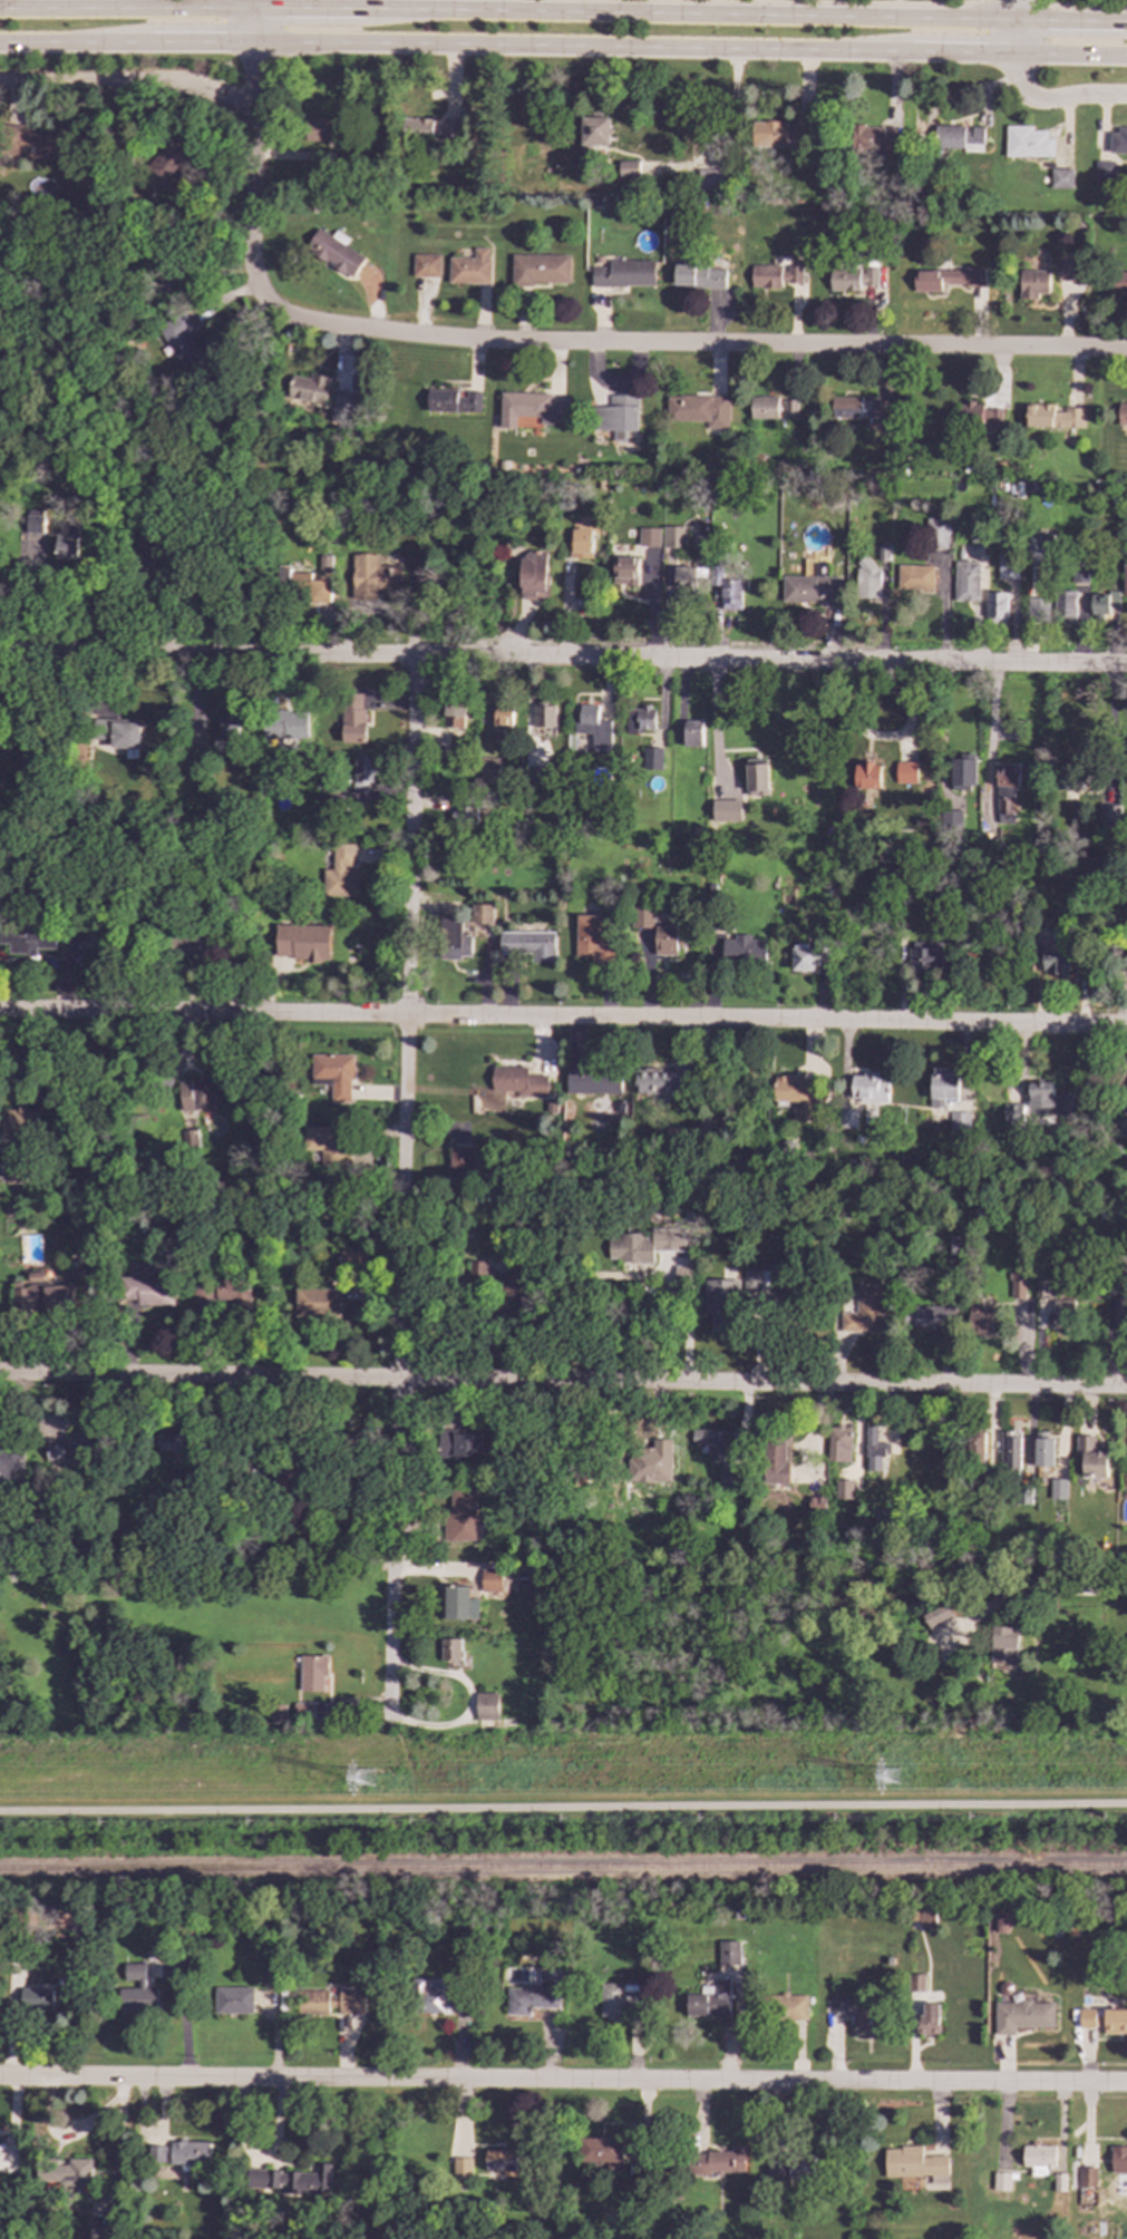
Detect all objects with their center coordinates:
road: (778, 0)
road: (823, 1)
road: (253, 4)
road: (1065, 6)
road: (126, 8)
road: (304, 9)
road: (1016, 10)
road: (686, 13)
road: (1124, 19)
road: (1068, 20)
road: (252, 26)
road: (1014, 37)
road: (74, 42)
road: (200, 43)
road: (579, 49)
road: (961, 53)
road: (1070, 55)
road: (126, 81)
road: (1055, 100)
road: (730, 126)
building: (320, 129)
building: (594, 130)
building: (430, 133)
building: (776, 134)
building: (959, 137)
building: (873, 140)
building: (1028, 142)
building: (1118, 142)
building: (29, 143)
building: (164, 165)
building: (628, 168)
building: (1104, 171)
building: (1060, 178)
building: (707, 179)
road: (251, 181)
building: (334, 251)
building: (426, 265)
building: (470, 267)
building: (540, 269)
building: (1065, 271)
building: (164, 272)
building: (624, 273)
building: (774, 275)
building: (699, 276)
building: (852, 279)
building: (948, 279)
building: (1116, 281)
building: (1033, 283)
building: (181, 333)
road: (698, 345)
building: (308, 390)
building: (453, 401)
building: (764, 407)
building: (846, 407)
building: (342, 408)
building: (533, 408)
building: (877, 408)
building: (699, 409)
building: (789, 409)
building: (1121, 412)
building: (981, 415)
building: (619, 416)
building: (1053, 416)
building: (937, 534)
building: (31, 536)
building: (673, 536)
building: (977, 536)
building: (649, 537)
building: (66, 539)
building: (581, 543)
building: (1038, 549)
building: (146, 555)
building: (324, 564)
building: (1007, 566)
building: (625, 571)
building: (1080, 573)
building: (534, 575)
building: (372, 576)
building: (914, 576)
building: (1125, 577)
building: (867, 580)
building: (965, 581)
building: (709, 583)
building: (320, 591)
building: (810, 591)
building: (1102, 603)
building: (995, 606)
building: (1065, 606)
building: (1037, 609)
road: (563, 656)
building: (453, 717)
building: (544, 717)
building: (352, 718)
building: (639, 719)
building: (503, 723)
building: (283, 730)
building: (230, 731)
building: (591, 731)
building: (692, 731)
road: (937, 731)
road: (990, 734)
building: (126, 738)
road: (882, 739)
building: (1, 740)
building: (651, 758)
building: (363, 769)
building: (488, 772)
building: (905, 772)
building: (962, 773)
building: (866, 776)
building: (755, 780)
building: (1004, 795)
building: (725, 810)
building: (1107, 816)
building: (465, 817)
building: (340, 873)
building: (480, 914)
building: (641, 916)
building: (28, 936)
building: (454, 938)
building: (592, 941)
building: (664, 941)
building: (302, 942)
building: (528, 944)
building: (193, 946)
building: (742, 950)
building: (924, 955)
building: (1050, 957)
building: (1123, 957)
building: (803, 958)
road: (563, 1018)
building: (332, 1074)
building: (593, 1080)
building: (517, 1081)
building: (660, 1081)
building: (943, 1087)
building: (867, 1088)
building: (196, 1094)
building: (796, 1094)
building: (1038, 1104)
building: (161, 1107)
building: (19, 1121)
building: (959, 1121)
building: (1119, 1128)
building: (327, 1143)
building: (460, 1162)
road: (402, 1189)
building: (644, 1244)
building: (353, 1258)
building: (681, 1274)
building: (756, 1279)
building: (1016, 1285)
building: (1045, 1288)
building: (148, 1291)
building: (221, 1293)
building: (39, 1298)
building: (719, 1301)
building: (318, 1302)
building: (864, 1310)
building: (1063, 1315)
building: (979, 1317)
building: (1119, 1317)
building: (931, 1318)
road: (563, 1381)
building: (174, 1443)
building: (712, 1443)
building: (838, 1443)
building: (459, 1445)
building: (78, 1449)
building: (974, 1449)
building: (1010, 1450)
building: (875, 1451)
building: (55, 1452)
building: (1043, 1452)
building: (1090, 1457)
building: (777, 1461)
building: (10, 1462)
building: (651, 1462)
building: (727, 1478)
building: (1057, 1488)
building: (844, 1489)
building: (462, 1513)
building: (882, 1519)
building: (490, 1579)
road: (1031, 1598)
building: (457, 1603)
building: (937, 1615)
building: (1003, 1645)
building: (451, 1652)
building: (312, 1672)
road: (469, 1701)
building: (486, 1706)
power tower: (366, 1780)
power tower: (892, 1780)
road: (563, 1807)
railway: (563, 1869)
building: (925, 1919)
building: (1001, 1922)
building: (729, 1953)
building: (272, 1978)
building: (915, 1983)
building: (136, 1990)
building: (535, 1995)
building: (434, 1998)
building: (36, 1999)
building: (616, 1999)
building: (233, 2001)
building: (709, 2001)
building: (328, 2003)
building: (837, 2006)
building: (789, 2007)
building: (1021, 2016)
building: (929, 2019)
building: (1104, 2021)
building: (866, 2022)
road: (563, 2081)
building: (602, 2150)
building: (181, 2153)
building: (1039, 2159)
building: (1118, 2159)
building: (502, 2161)
building: (720, 2161)
building: (914, 2163)
building: (462, 2168)
building: (788, 2170)
building: (74, 2172)
building: (1086, 2177)
building: (291, 2180)
building: (1001, 2181)
building: (1059, 2183)
building: (96, 2232)

